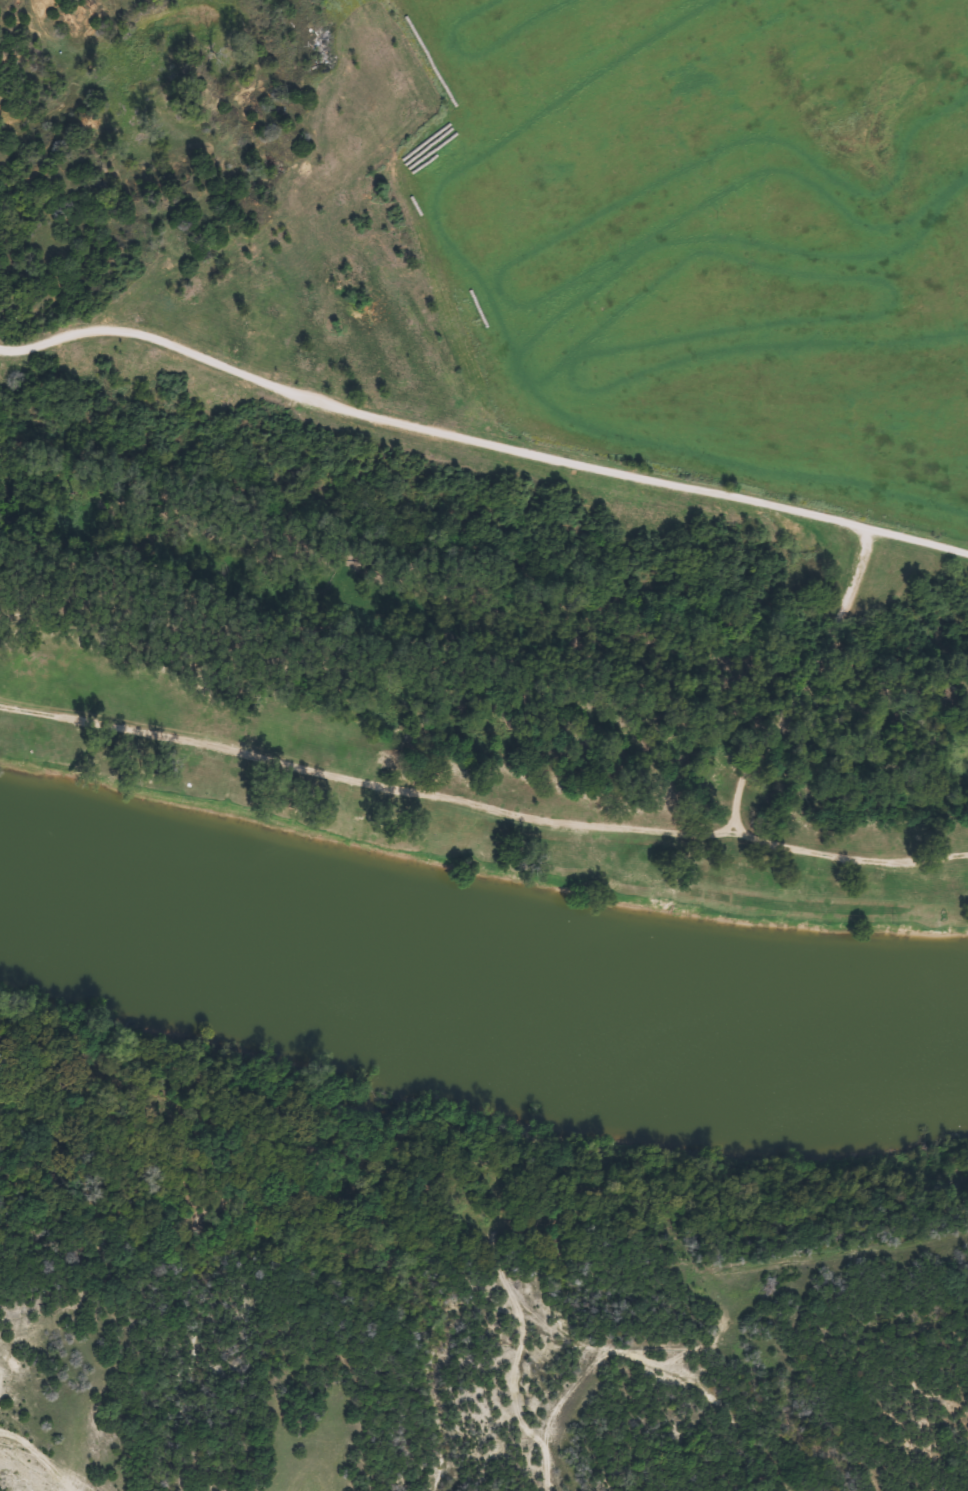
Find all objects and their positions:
road: (480, 435)
road: (793, 672)
road: (361, 773)
road: (845, 846)
river: (479, 1007)

